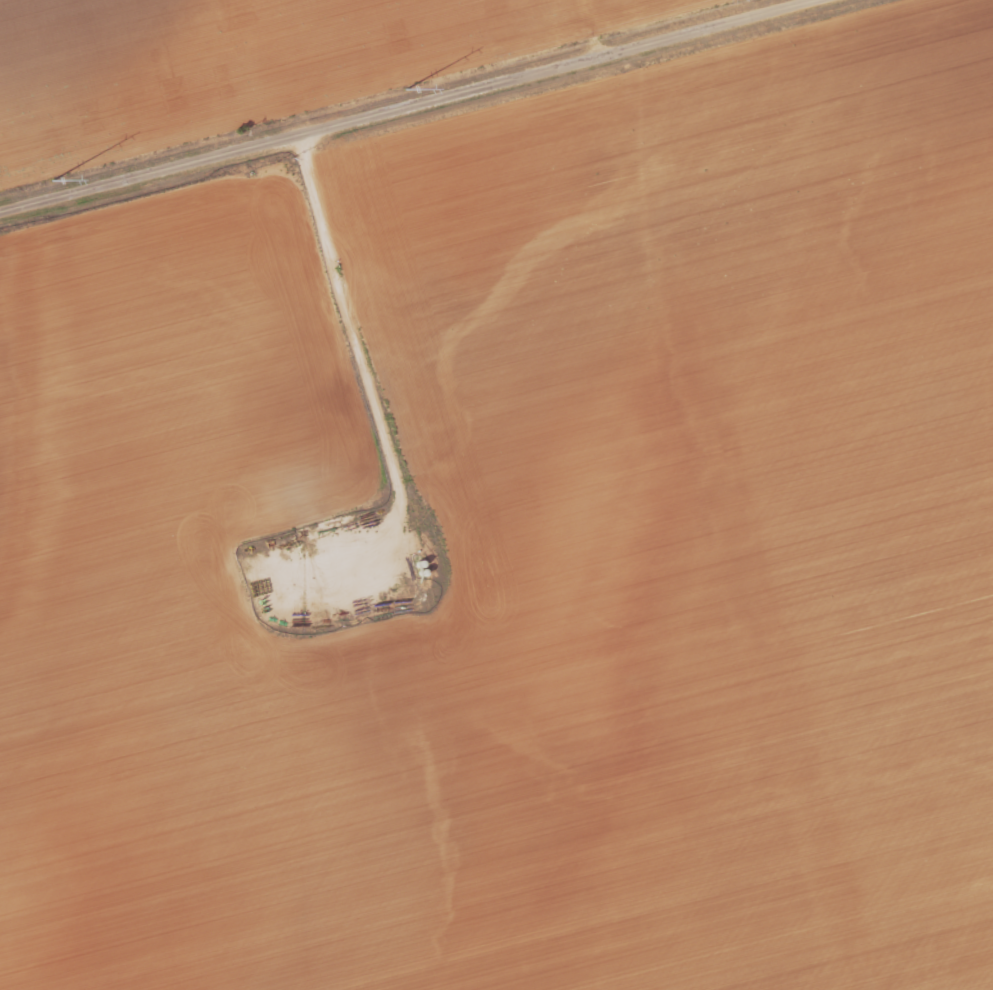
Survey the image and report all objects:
road: (591, 27)
power tower: (400, 90)
road: (407, 106)
power tower: (46, 182)

